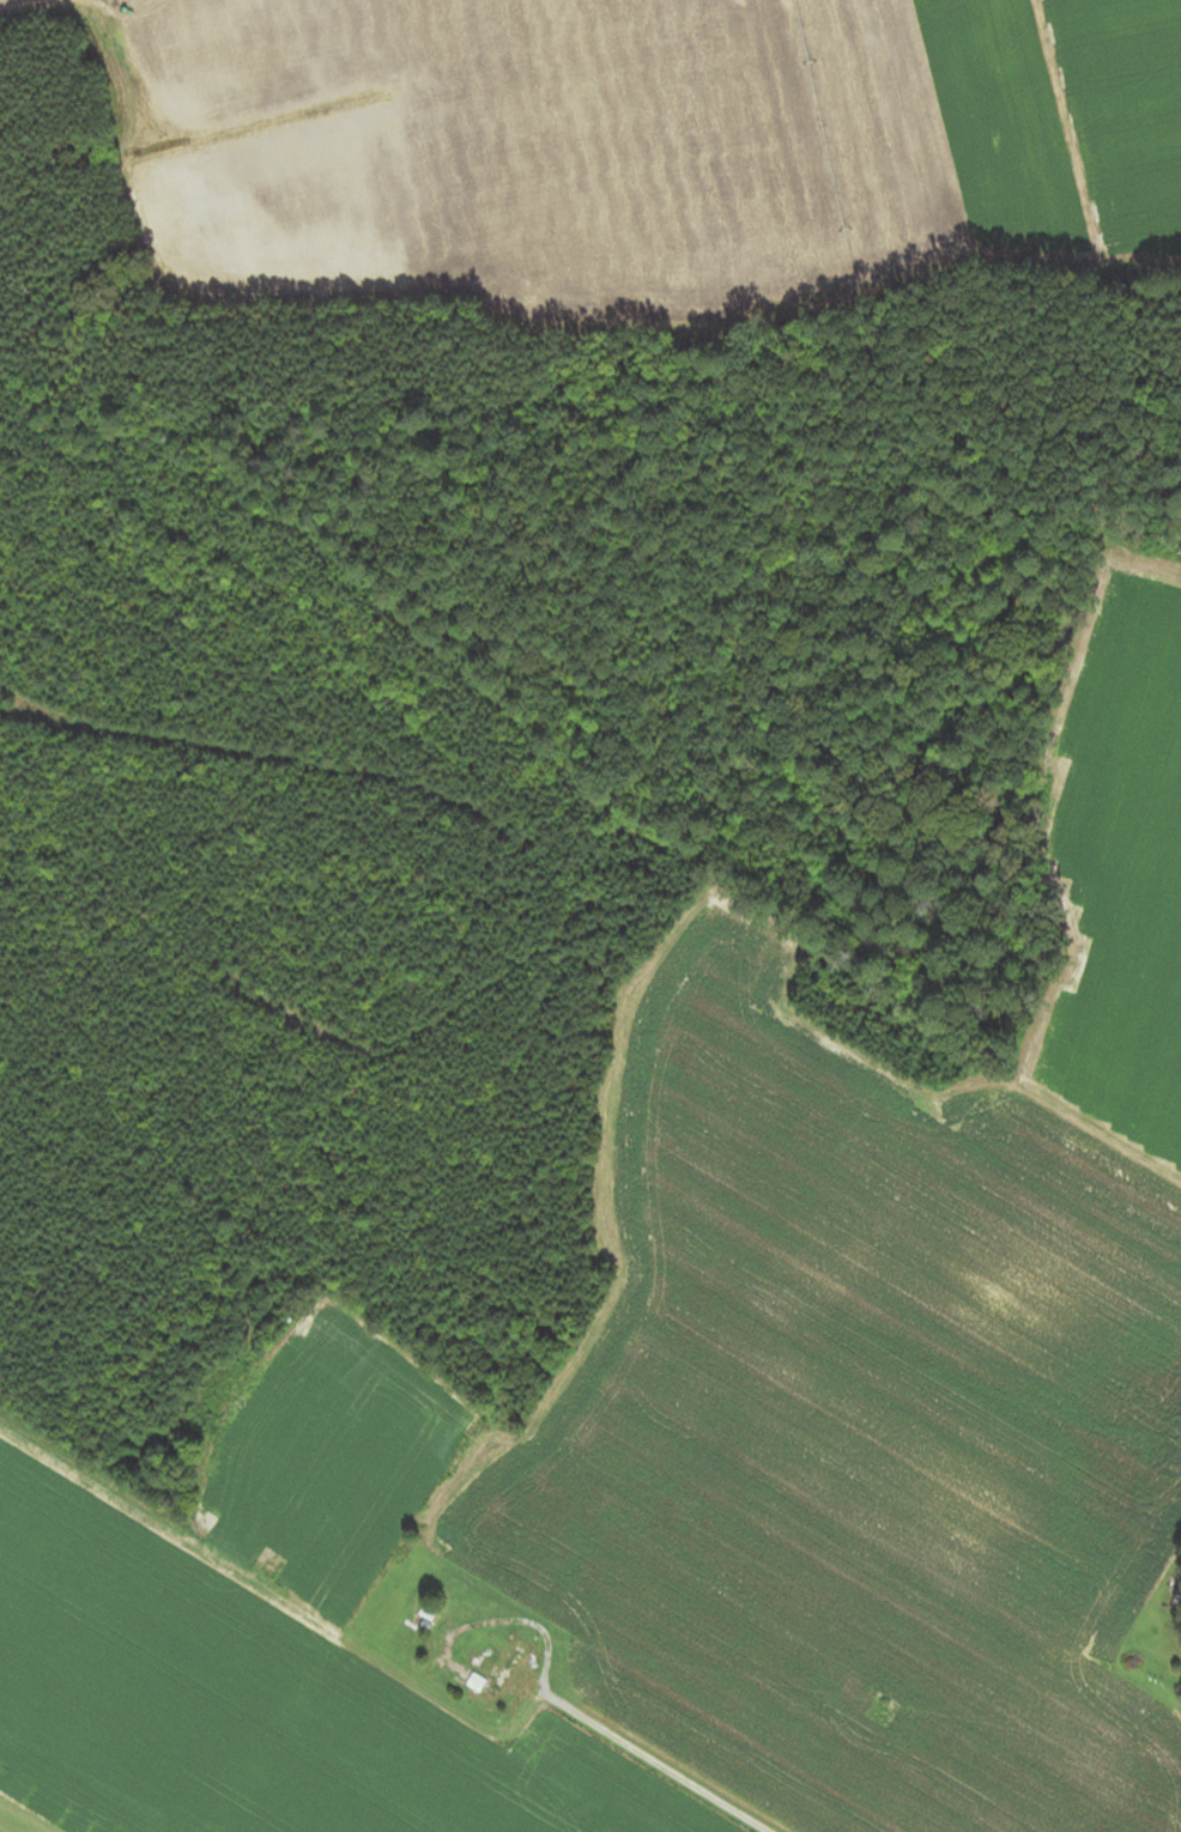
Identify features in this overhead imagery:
building: (275, 1327)
building: (504, 1670)
road: (660, 1769)

